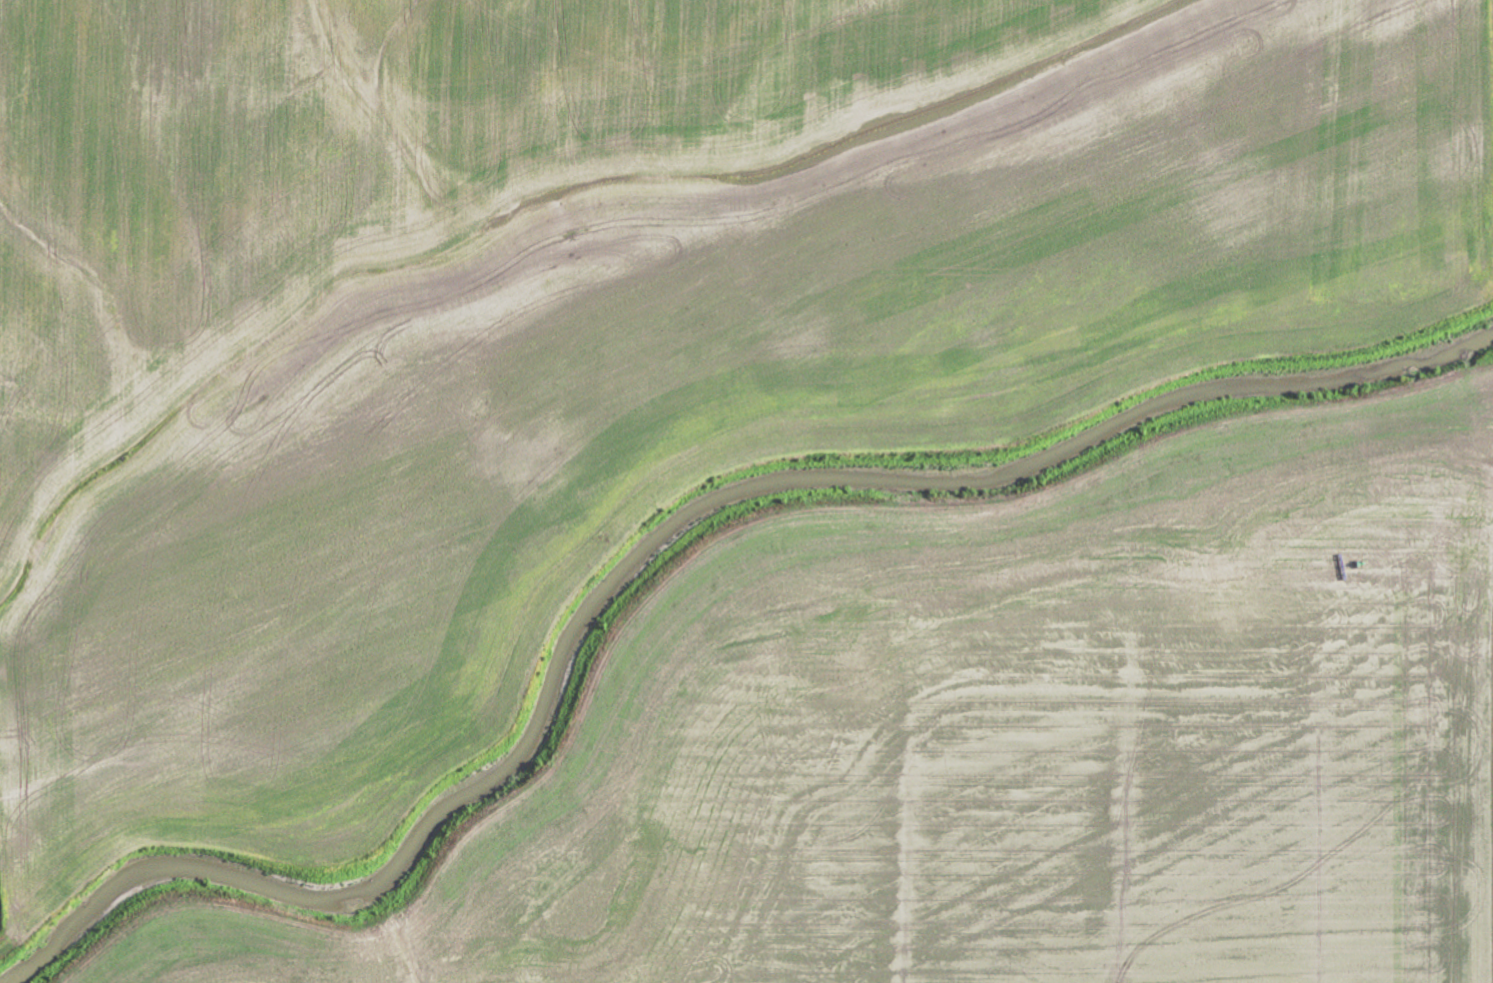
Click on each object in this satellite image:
river: (540, 734)

